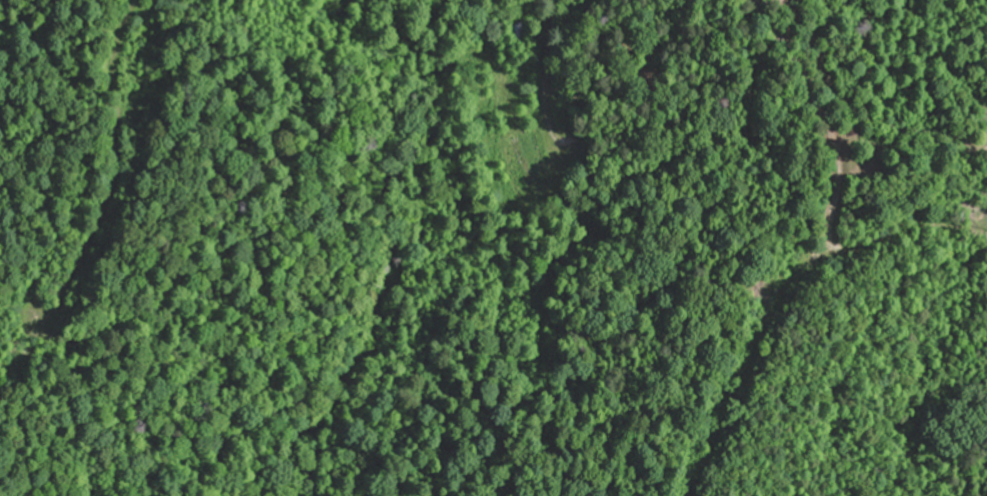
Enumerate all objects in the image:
building: (515, 30)
road: (550, 82)
road: (829, 120)
building: (510, 147)
road: (118, 162)

